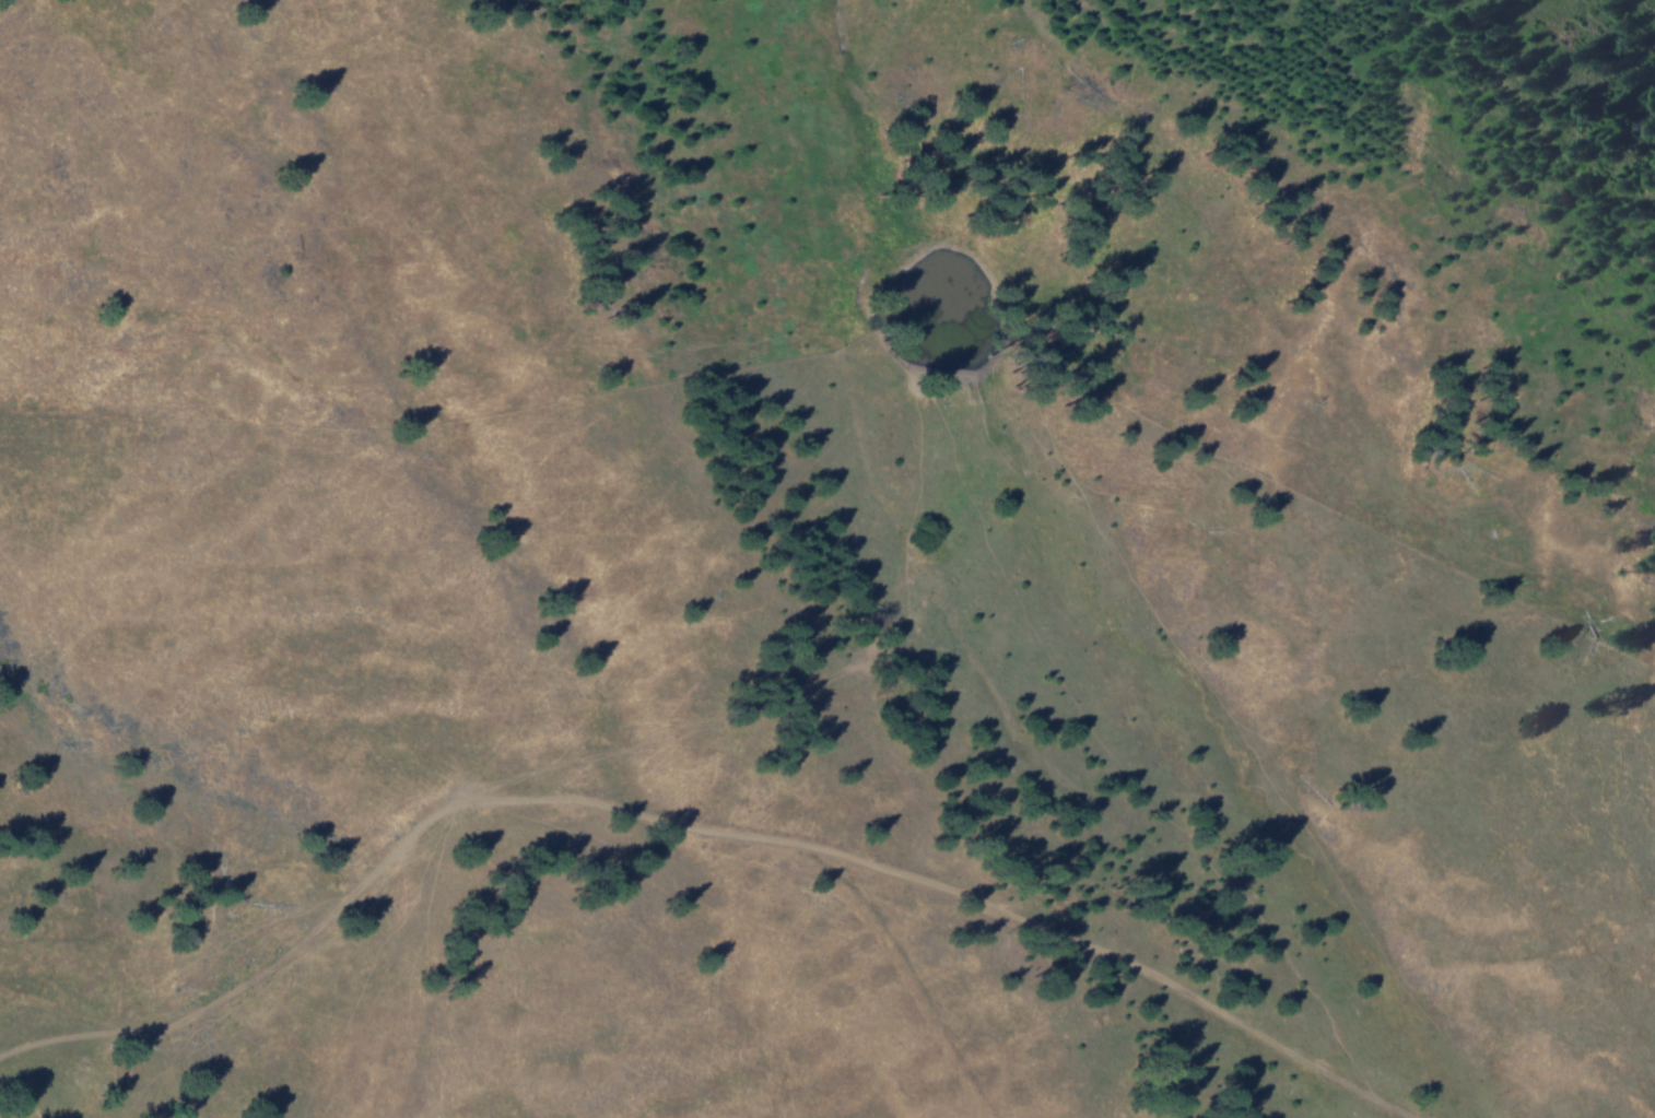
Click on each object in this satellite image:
road: (635, 829)

